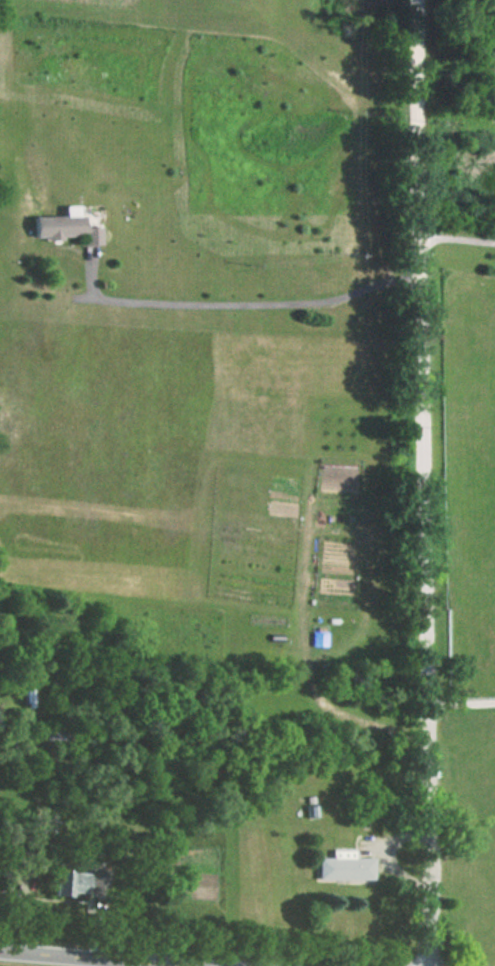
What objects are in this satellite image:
building: (65, 229)
road: (458, 239)
road: (268, 303)
road: (425, 482)
road: (461, 706)
building: (62, 738)
building: (344, 865)
building: (68, 883)
road: (103, 958)

